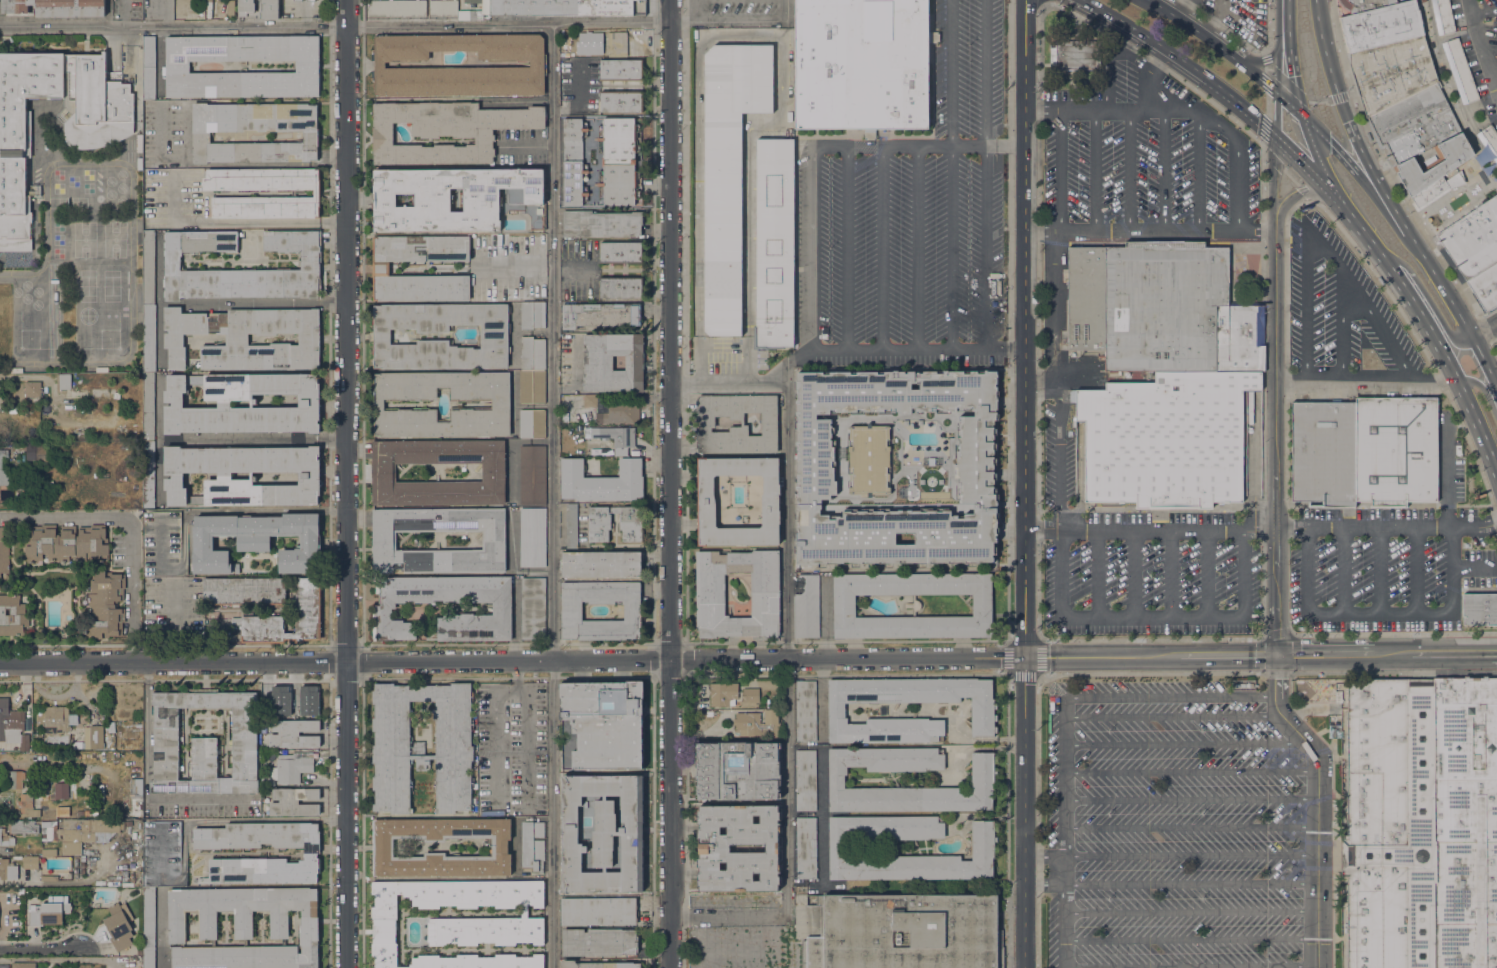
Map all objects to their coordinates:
building: (298, 0)
building: (311, 0)
building: (473, 2)
road: (1041, 2)
road: (1043, 2)
building: (1363, 5)
road: (1045, 6)
road: (1217, 6)
building: (56, 7)
building: (230, 7)
building: (246, 7)
building: (559, 7)
road: (1181, 7)
road: (1471, 7)
building: (397, 8)
building: (442, 8)
building: (270, 9)
road: (1485, 12)
building: (194, 15)
building: (475, 15)
building: (1443, 16)
road: (740, 21)
road: (1212, 23)
road: (511, 24)
road: (175, 26)
building: (1381, 26)
road: (1248, 27)
road: (1197, 31)
road: (1141, 37)
building: (618, 43)
road: (1244, 43)
road: (1278, 45)
building: (593, 51)
road: (1485, 51)
road: (1263, 52)
building: (1075, 56)
road: (1291, 59)
road: (1264, 60)
road: (1108, 63)
building: (537, 64)
building: (862, 64)
building: (177, 66)
building: (149, 67)
traffic signals: (1278, 68)
building: (621, 69)
road: (1265, 69)
road: (1269, 69)
road: (1278, 70)
building: (1460, 70)
road: (951, 72)
road: (984, 72)
building: (1391, 73)
road: (1143, 76)
traffic signals: (1294, 76)
road: (1258, 79)
road: (1265, 83)
road: (1290, 85)
road: (1352, 94)
road: (1338, 97)
building: (621, 101)
road: (1317, 103)
road: (1267, 104)
road: (1290, 105)
road: (1240, 106)
road: (1108, 109)
road: (1277, 115)
traffic signals: (1350, 120)
traffic signals: (1261, 123)
building: (1414, 125)
road: (1264, 127)
building: (446, 130)
road: (1356, 134)
building: (201, 137)
building: (1490, 137)
road: (1262, 141)
road: (1005, 144)
road: (1330, 144)
traffic signals: (1330, 144)
road: (899, 146)
building: (15, 153)
road: (1264, 153)
road: (1236, 156)
road: (1320, 159)
road: (1274, 160)
building: (574, 161)
building: (620, 161)
road: (268, 165)
road: (1059, 167)
road: (1388, 167)
road: (1094, 168)
road: (1128, 168)
road: (1163, 168)
road: (1191, 168)
road: (1309, 168)
building: (1432, 169)
building: (728, 171)
road: (1291, 177)
road: (1272, 184)
building: (306, 193)
road: (1306, 193)
road: (1298, 194)
building: (450, 197)
road: (1313, 201)
road: (1387, 217)
road: (234, 223)
building: (537, 223)
building: (601, 224)
railway: (1380, 225)
road: (1361, 226)
road: (1151, 227)
road: (1286, 241)
building: (1470, 242)
building: (774, 244)
road: (984, 246)
road: (915, 247)
road: (951, 247)
road: (881, 249)
road: (847, 250)
road: (1324, 251)
building: (621, 252)
road: (816, 252)
building: (310, 265)
building: (149, 268)
building: (380, 268)
road: (514, 268)
building: (620, 287)
building: (1485, 287)
road: (1428, 298)
road: (253, 303)
building: (1146, 304)
road: (1307, 305)
building: (532, 315)
building: (600, 315)
road: (1464, 322)
road: (1482, 323)
road: (1341, 328)
road: (1379, 328)
road: (1026, 330)
road: (159, 335)
building: (494, 336)
road: (1485, 336)
building: (1240, 337)
building: (148, 338)
building: (245, 338)
road: (554, 342)
building: (533, 353)
road: (1445, 357)
building: (597, 362)
road: (730, 378)
road: (1368, 383)
building: (65, 385)
building: (532, 386)
building: (33, 390)
building: (1, 391)
road: (1485, 391)
road: (786, 393)
building: (590, 400)
building: (308, 403)
building: (500, 404)
building: (148, 407)
building: (13, 410)
building: (620, 411)
building: (705, 422)
building: (532, 423)
building: (613, 435)
road: (223, 438)
building: (1166, 439)
road: (1276, 445)
building: (592, 448)
building: (37, 451)
building: (1394, 451)
building: (1323, 453)
building: (974, 468)
building: (4, 469)
building: (383, 472)
building: (148, 473)
building: (532, 474)
building: (309, 475)
building: (602, 481)
building: (49, 483)
road: (347, 483)
road: (672, 484)
building: (706, 499)
road: (1447, 505)
road: (1474, 505)
road: (1495, 512)
building: (631, 523)
road: (1387, 524)
building: (571, 526)
road: (1151, 527)
road: (130, 530)
building: (532, 536)
building: (384, 540)
road: (1039, 540)
building: (256, 541)
building: (66, 543)
building: (4, 552)
building: (601, 564)
road: (1244, 567)
road: (1058, 568)
road: (1341, 568)
road: (1379, 568)
road: (1415, 568)
road: (1097, 571)
road: (1133, 571)
road: (1171, 571)
road: (1205, 571)
building: (244, 590)
building: (710, 594)
building: (307, 595)
building: (106, 603)
building: (806, 605)
building: (844, 605)
building: (1480, 609)
building: (502, 610)
building: (532, 610)
building: (571, 612)
road: (1378, 612)
building: (12, 615)
road: (1151, 616)
road: (1393, 634)
road: (1261, 659)
road: (512, 663)
building: (1420, 680)
building: (722, 693)
building: (751, 695)
road: (1170, 696)
building: (1338, 696)
building: (308, 699)
building: (294, 705)
building: (806, 711)
building: (982, 712)
building: (710, 713)
road: (1172, 715)
building: (99, 716)
building: (55, 719)
road: (498, 724)
building: (602, 725)
building: (757, 725)
building: (111, 726)
building: (13, 727)
building: (1334, 731)
building: (294, 733)
building: (91, 738)
road: (528, 741)
building: (205, 743)
road: (1185, 743)
building: (422, 746)
road: (803, 746)
building: (104, 756)
building: (289, 768)
building: (737, 770)
road: (1190, 771)
road: (1063, 777)
building: (12, 779)
building: (805, 780)
building: (983, 782)
road: (149, 783)
building: (65, 790)
building: (136, 798)
road: (1190, 800)
building: (294, 801)
building: (27, 805)
road: (1318, 806)
building: (80, 812)
building: (87, 812)
building: (48, 814)
road: (803, 814)
road: (1025, 814)
road: (553, 815)
building: (3, 823)
building: (128, 823)
building: (1421, 823)
building: (23, 826)
building: (88, 828)
parking lot: (1172, 828)
road: (1190, 828)
building: (48, 830)
building: (603, 834)
building: (5, 838)
road: (787, 844)
building: (982, 845)
building: (532, 846)
road: (819, 846)
building: (383, 847)
building: (805, 847)
building: (71, 848)
building: (738, 848)
building: (49, 852)
building: (312, 853)
building: (162, 854)
building: (1343, 855)
road: (1190, 856)
road: (1044, 857)
building: (82, 858)
building: (30, 862)
building: (7, 869)
road: (1063, 871)
building: (48, 878)
road: (1190, 884)
road: (1044, 886)
building: (21, 891)
road: (1190, 910)
building: (49, 911)
building: (598, 911)
building: (459, 921)
building: (119, 925)
building: (244, 926)
building: (149, 927)
road: (1063, 927)
building: (905, 932)
road: (1190, 940)
building: (599, 942)
building: (139, 951)
road: (40, 954)
building: (599, 964)
building: (23, 965)
road: (1190, 967)

